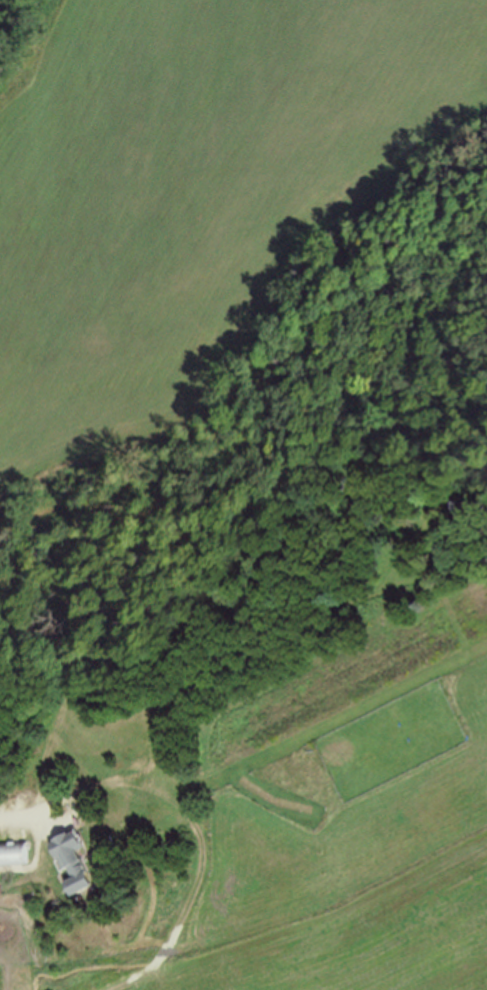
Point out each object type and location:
building: (454, 511)
road: (35, 817)
building: (20, 857)
building: (68, 861)
building: (87, 879)

